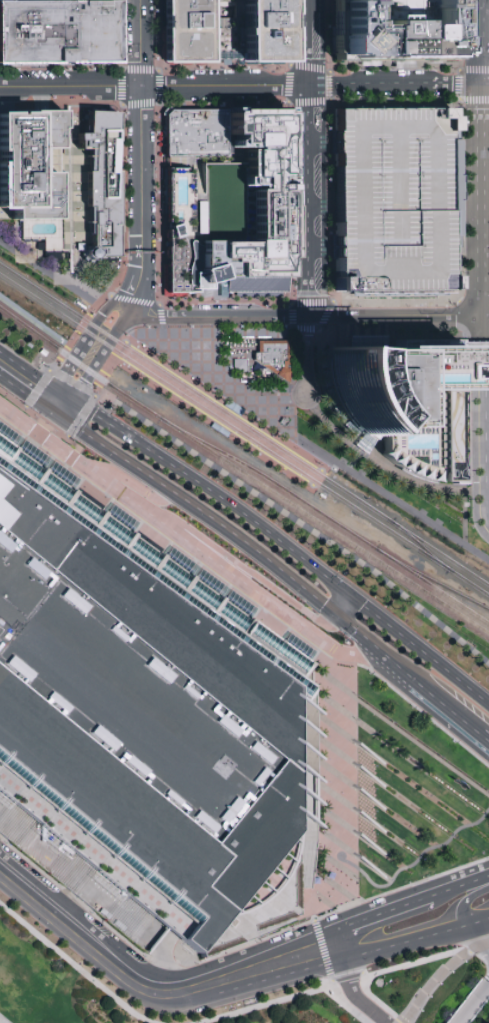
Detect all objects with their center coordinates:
building: (34, 1)
building: (93, 1)
building: (186, 31)
building: (263, 31)
building: (397, 31)
building: (59, 33)
road: (483, 42)
road: (141, 44)
helipad: (388, 48)
road: (459, 72)
road: (396, 85)
road: (225, 87)
road: (71, 89)
road: (474, 99)
road: (76, 101)
building: (195, 133)
road: (68, 140)
road: (309, 159)
building: (27, 163)
road: (142, 166)
building: (101, 181)
road: (122, 189)
building: (257, 196)
road: (64, 197)
building: (398, 200)
parking garage: (398, 200)
road: (484, 201)
building: (181, 247)
road: (135, 259)
park: (42, 268)
road: (48, 275)
building: (198, 278)
road: (72, 279)
road: (145, 280)
building: (257, 283)
road: (128, 287)
road: (118, 301)
road: (143, 303)
road: (123, 309)
road: (308, 320)
road: (34, 322)
road: (96, 322)
road: (233, 327)
road: (77, 333)
road: (474, 345)
road: (308, 351)
road: (100, 357)
building: (276, 358)
road: (107, 365)
road: (67, 367)
road: (21, 368)
road: (71, 384)
road: (302, 384)
road: (47, 386)
road: (37, 389)
traffic signals: (53, 390)
road: (21, 391)
road: (64, 397)
road: (47, 398)
traffic signals: (75, 404)
road: (16, 405)
building: (399, 406)
traffic signals: (42, 407)
road: (80, 407)
road: (24, 408)
railway: (224, 408)
road: (69, 413)
road: (53, 414)
road: (80, 416)
road: (483, 419)
railway: (215, 421)
traffic signals: (64, 422)
road: (43, 425)
railway: (244, 425)
building: (458, 433)
road: (35, 435)
railway: (244, 435)
road: (60, 436)
road: (66, 437)
road: (78, 448)
road: (316, 451)
road: (67, 461)
railway: (242, 473)
road: (129, 484)
railway: (280, 485)
park: (399, 493)
road: (220, 499)
road: (203, 514)
road: (464, 516)
road: (487, 524)
road: (183, 540)
railway: (415, 542)
road: (170, 551)
road: (232, 561)
railway: (441, 585)
railway: (441, 592)
traffic signals: (349, 598)
road: (342, 606)
traffic signals: (336, 616)
road: (354, 632)
road: (375, 650)
road: (419, 652)
road: (396, 668)
road: (447, 709)
building: (144, 728)
road: (484, 739)
road: (415, 744)
road: (339, 776)
road: (93, 852)
road: (413, 865)
road: (469, 884)
road: (441, 894)
road: (336, 897)
road: (74, 900)
road: (467, 902)
road: (332, 912)
road: (382, 913)
road: (486, 922)
road: (75, 931)
road: (478, 939)
road: (413, 940)
road: (74, 948)
road: (163, 960)
road: (244, 965)
road: (326, 965)
road: (77, 966)
road: (392, 967)
road: (364, 975)
road: (440, 976)
road: (349, 983)
road: (247, 988)
road: (263, 1003)
road: (473, 1003)
road: (343, 1004)

